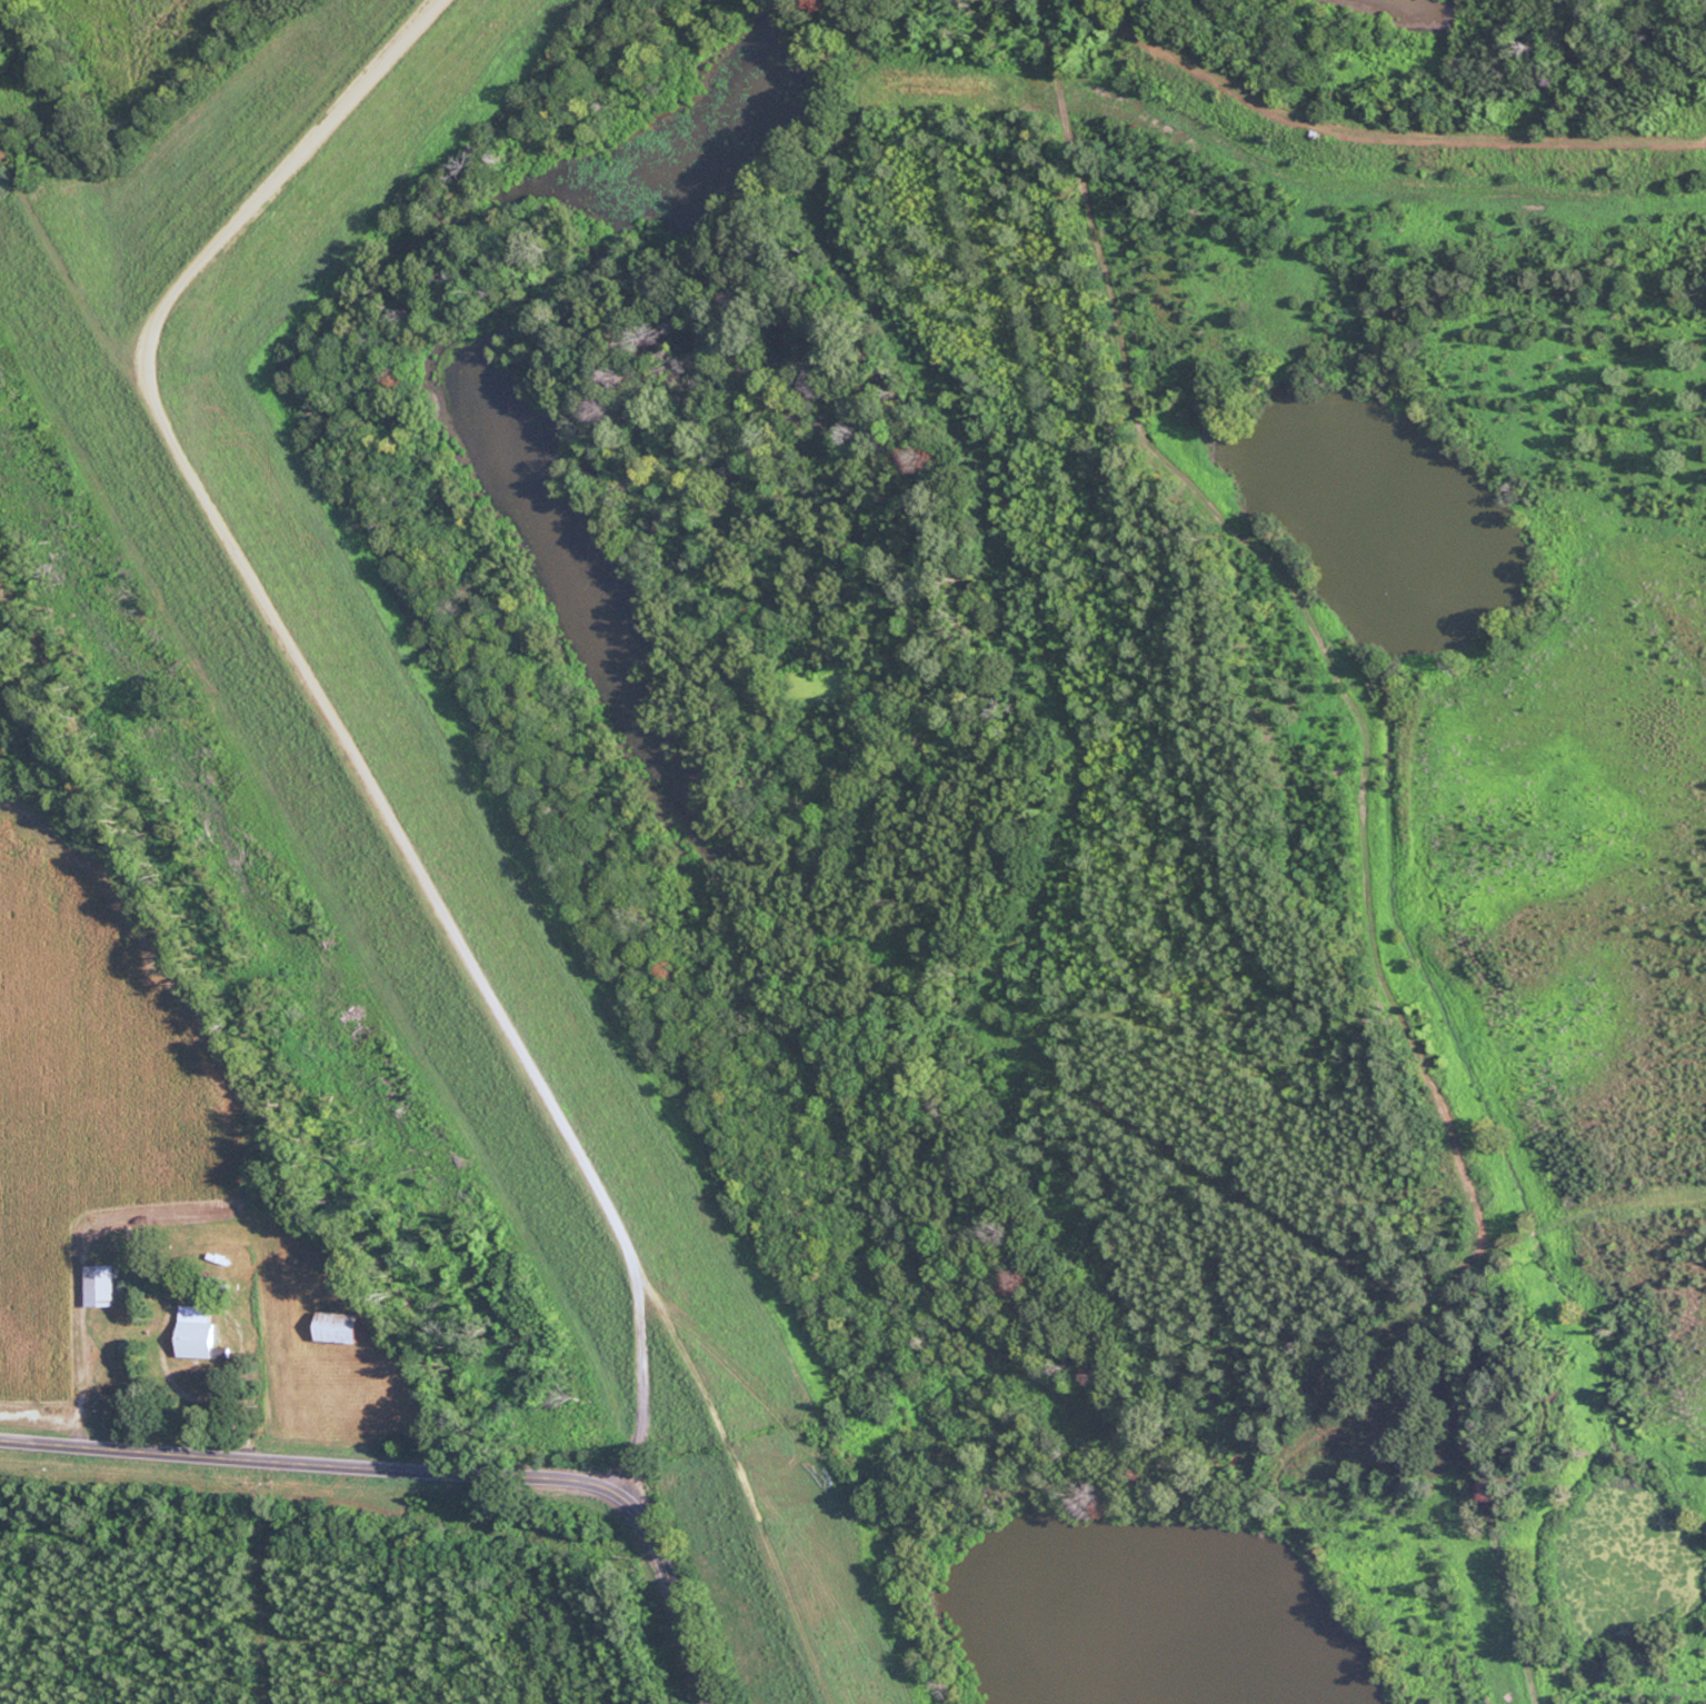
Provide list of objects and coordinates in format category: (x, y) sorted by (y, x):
road: (1376, 139)
road: (1369, 1218)
building: (102, 1285)
building: (341, 1329)
building: (199, 1334)
road: (635, 1402)
road: (1217, 1463)
road: (420, 1475)
road: (1004, 1478)
road: (749, 1506)
road: (1486, 1529)

